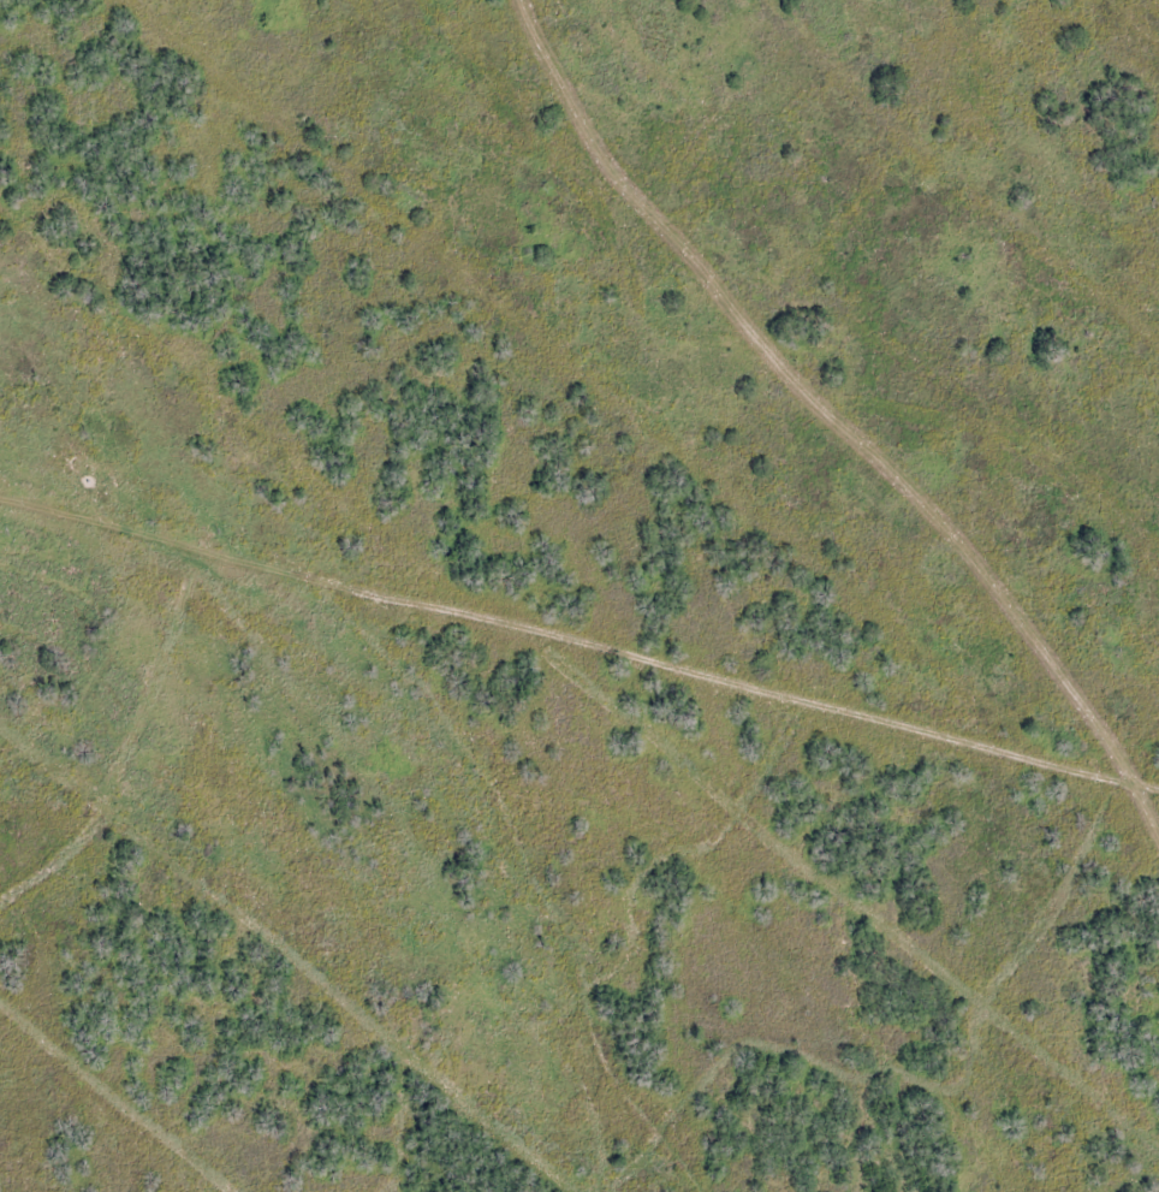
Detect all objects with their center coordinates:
road: (931, 136)

